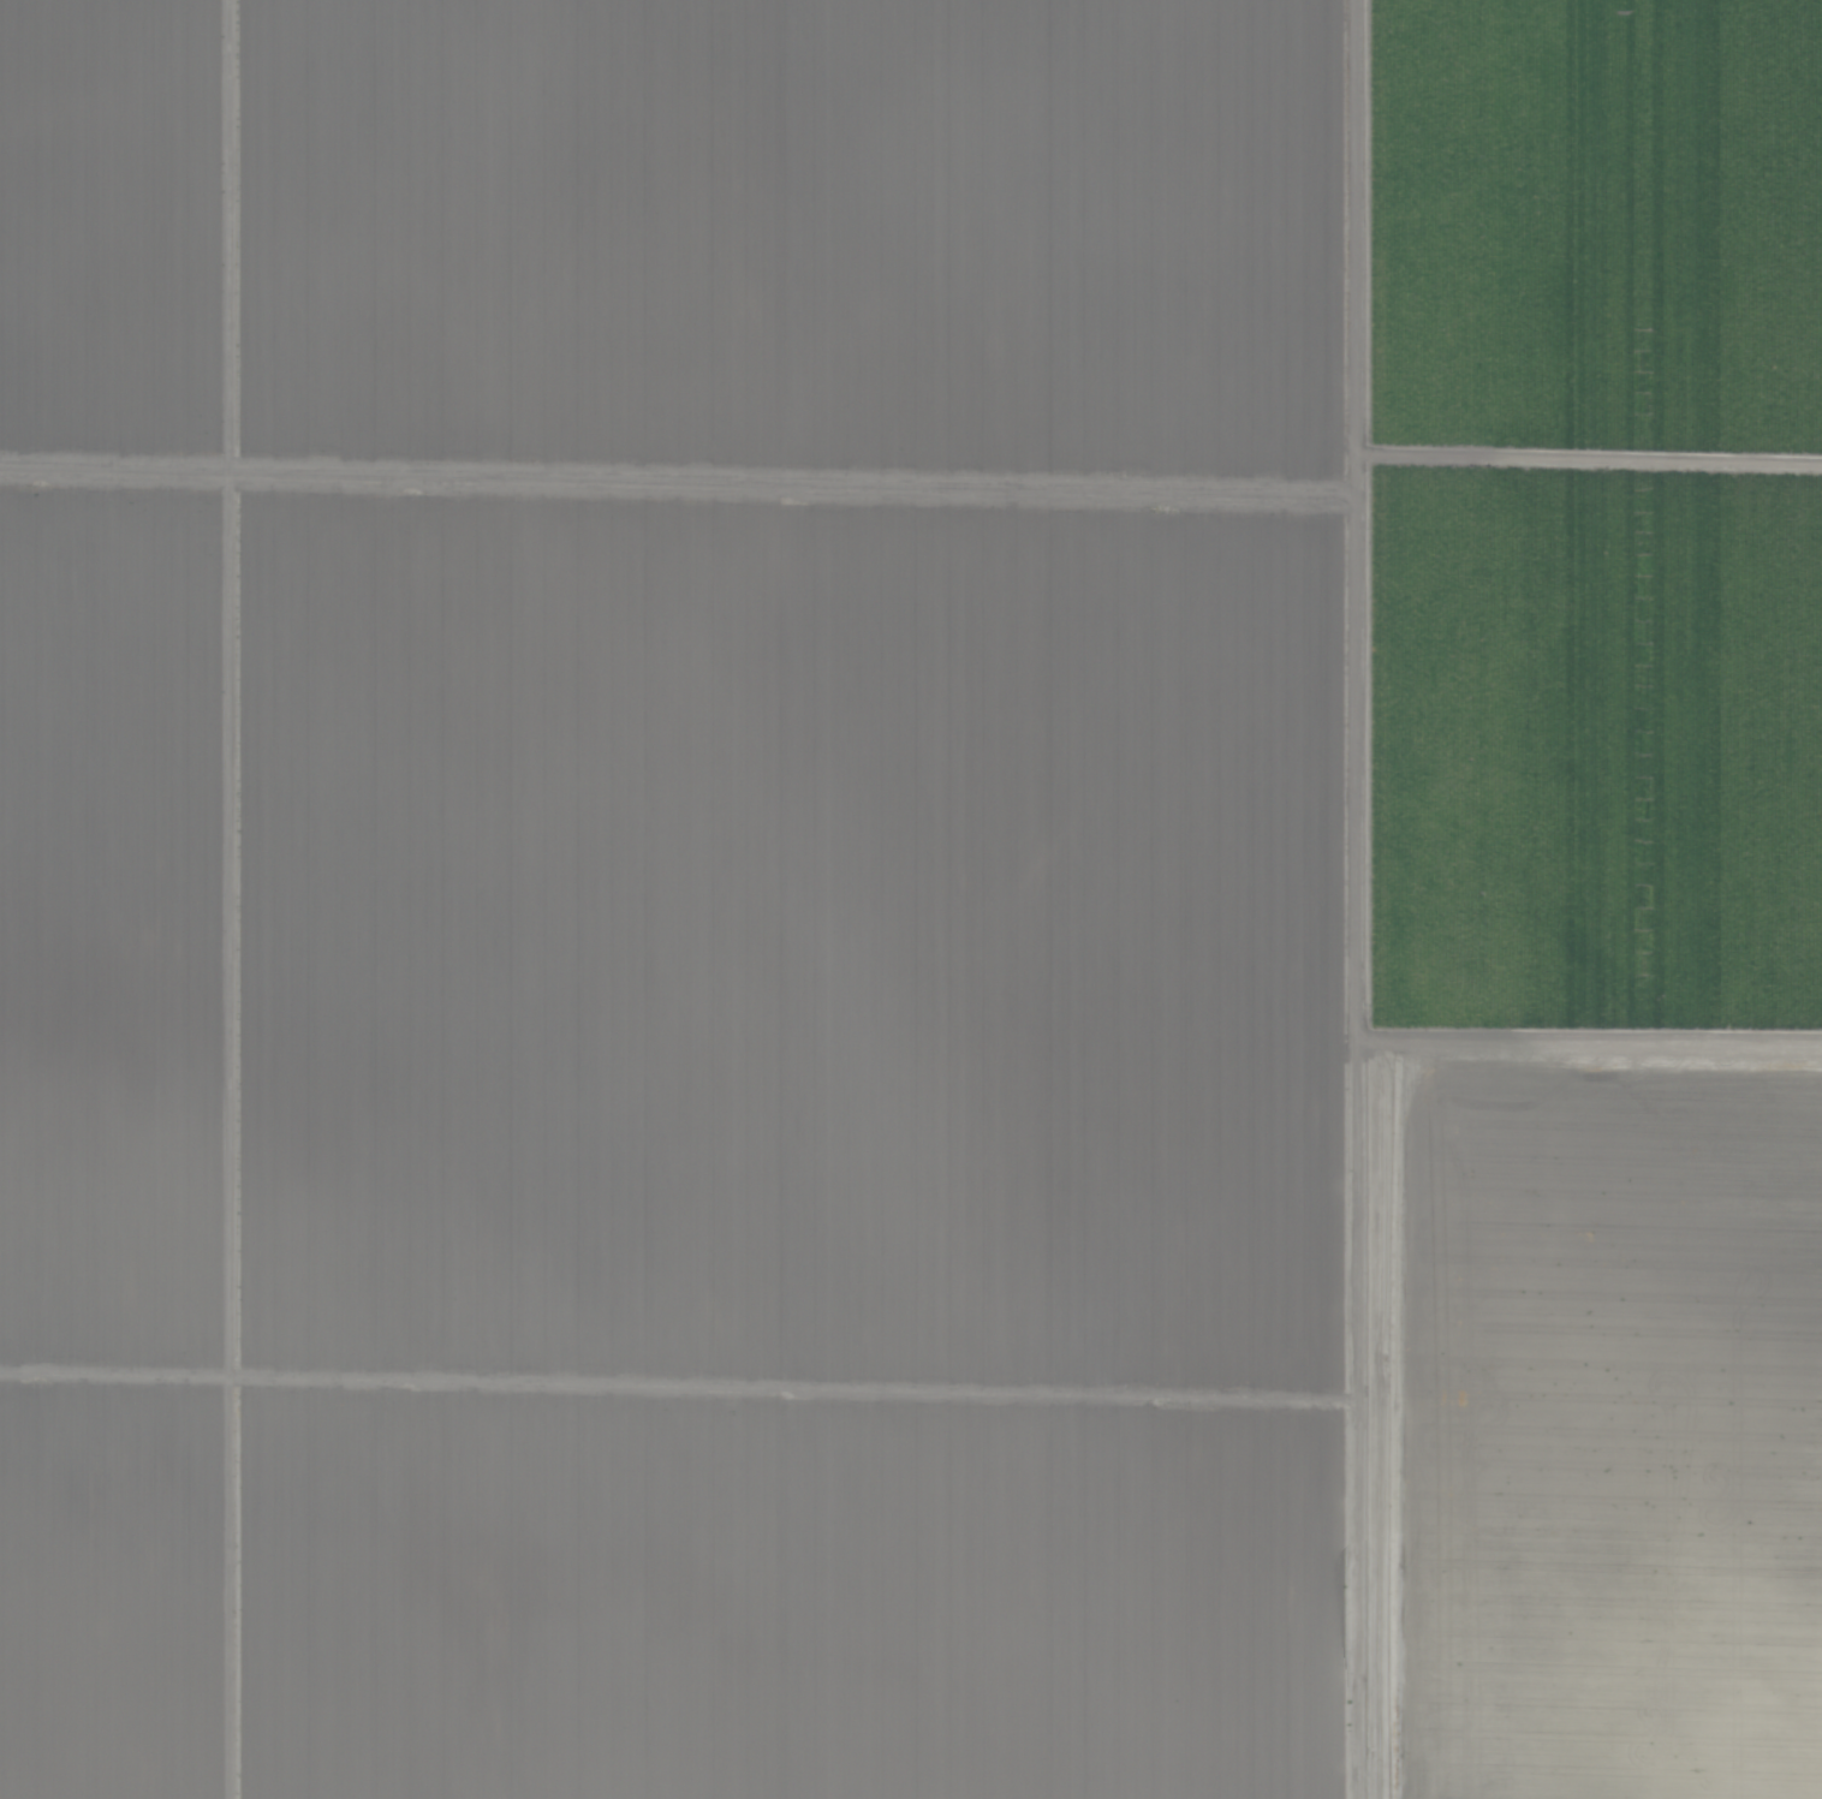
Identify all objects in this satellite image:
crop: (911, 899)

